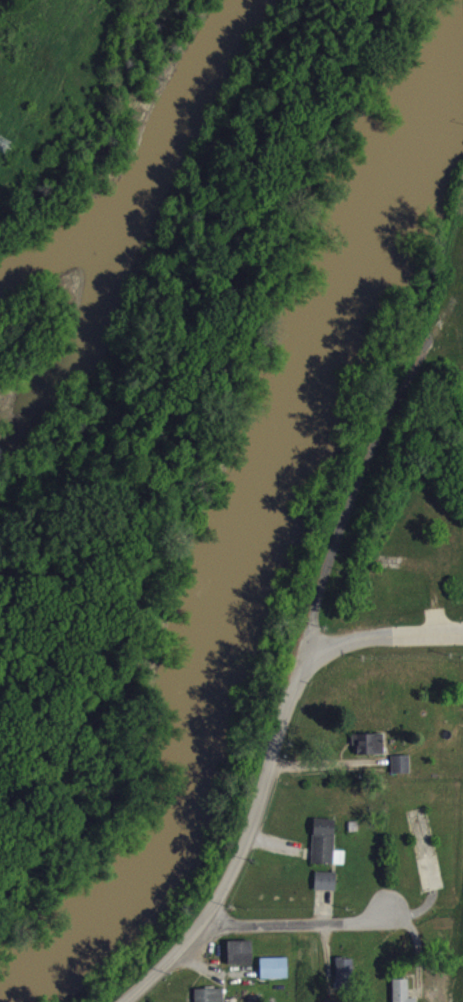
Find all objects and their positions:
power tower: (5, 146)
road: (350, 497)
river: (248, 543)
road: (386, 644)
building: (370, 751)
building: (401, 771)
road: (250, 846)
building: (326, 888)
road: (302, 931)
building: (241, 960)
building: (274, 975)
building: (345, 980)
building: (403, 994)
building: (210, 999)

